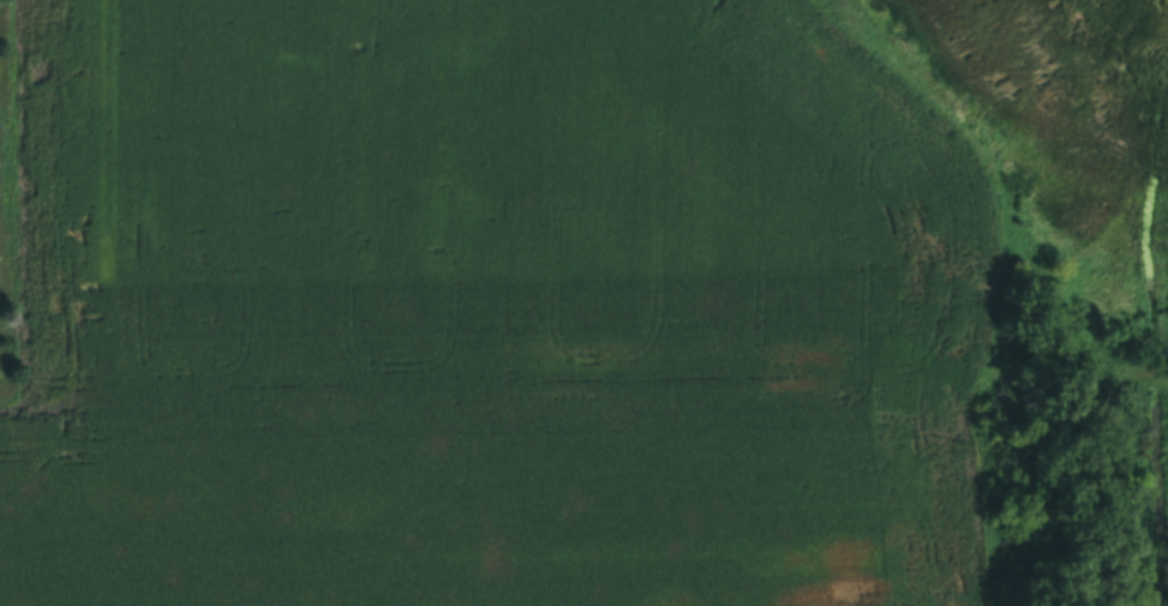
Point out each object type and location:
crop: (493, 505)

